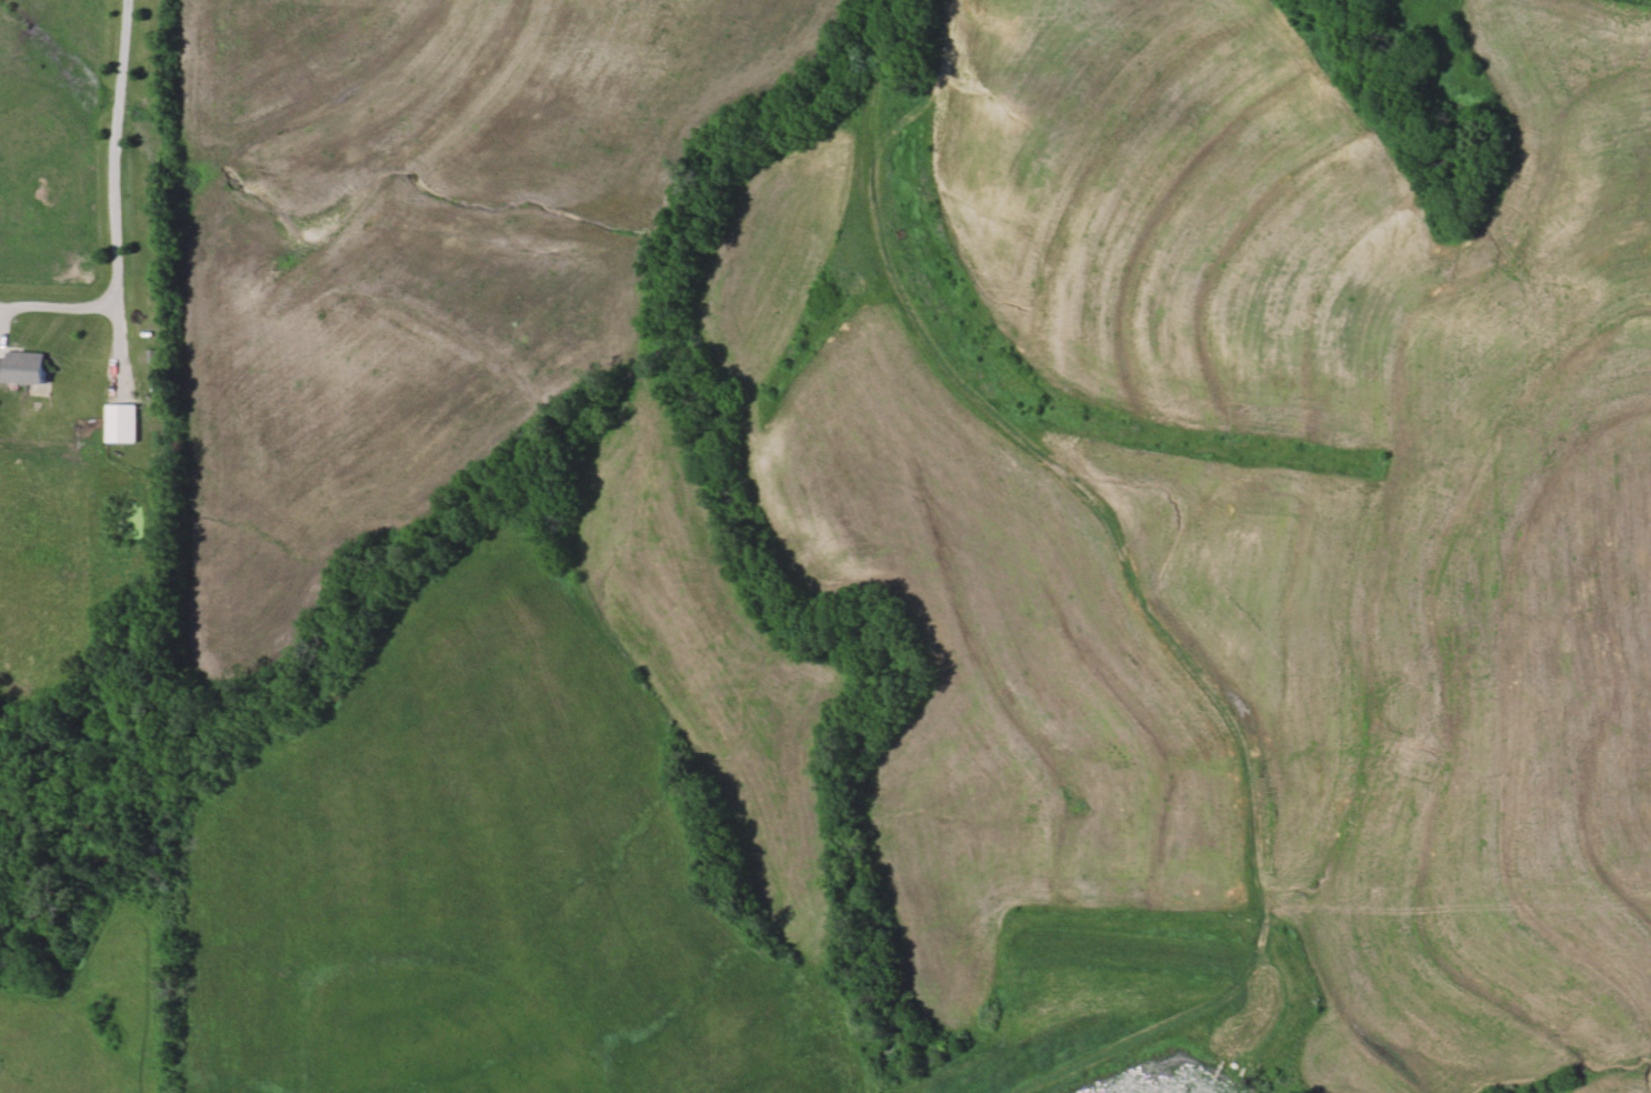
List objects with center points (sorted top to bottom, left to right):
road: (117, 204)
building: (20, 367)
building: (117, 423)

